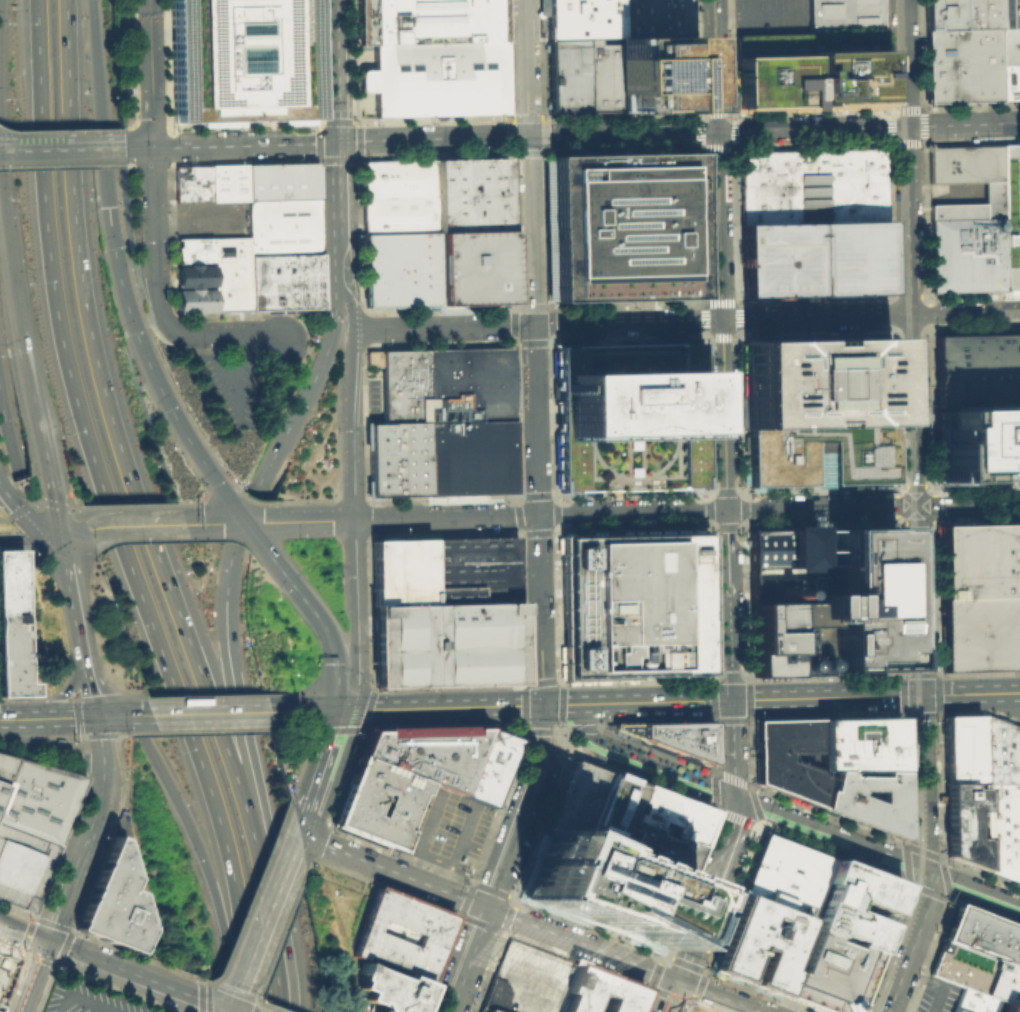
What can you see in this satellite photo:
building: (1008, 13)
building: (961, 14)
road: (759, 16)
building: (843, 16)
parking lot: (770, 17)
building: (654, 18)
building: (582, 19)
building: (428, 20)
building: (1009, 45)
road: (887, 55)
building: (239, 59)
road: (904, 62)
building: (962, 64)
road: (715, 65)
road: (525, 67)
building: (808, 68)
road: (335, 70)
road: (147, 72)
building: (656, 73)
building: (603, 74)
building: (568, 75)
building: (435, 78)
building: (1018, 80)
building: (1008, 82)
road: (893, 86)
road: (97, 103)
road: (893, 109)
traffic signals: (907, 125)
road: (868, 126)
traffic signals: (717, 130)
road: (669, 131)
road: (574, 134)
traffic signals: (527, 135)
road: (480, 136)
road: (385, 139)
traffic signals: (338, 140)
road: (244, 142)
road: (127, 145)
road: (135, 145)
road: (88, 146)
road: (716, 147)
road: (28, 148)
road: (318, 150)
road: (545, 151)
road: (328, 160)
building: (964, 163)
road: (60, 164)
road: (129, 164)
building: (280, 179)
building: (225, 181)
building: (189, 182)
building: (812, 185)
road: (944, 186)
road: (339, 187)
building: (470, 193)
building: (397, 195)
building: (992, 199)
traffic signals: (107, 206)
building: (956, 210)
building: (1010, 214)
road: (134, 217)
parking lot: (208, 218)
road: (194, 220)
building: (281, 225)
road: (719, 225)
building: (619, 226)
road: (529, 229)
road: (151, 236)
road: (321, 236)
building: (191, 249)
building: (966, 254)
road: (333, 256)
building: (814, 257)
parking lot: (814, 257)
building: (472, 266)
building: (400, 268)
building: (228, 272)
building: (191, 274)
road: (8, 275)
building: (283, 279)
road: (354, 280)
building: (191, 299)
road: (347, 302)
road: (814, 306)
road: (294, 313)
road: (871, 316)
road: (626, 322)
road: (484, 325)
road: (394, 328)
road: (172, 331)
road: (230, 333)
road: (893, 333)
road: (234, 354)
building: (977, 371)
road: (223, 372)
road: (148, 375)
building: (400, 383)
building: (468, 383)
parking lot: (224, 384)
road: (306, 394)
road: (29, 399)
road: (3, 403)
building: (817, 409)
road: (895, 409)
road: (914, 410)
road: (723, 414)
building: (628, 415)
traffic signals: (7, 420)
road: (547, 423)
building: (977, 443)
railway: (899, 444)
road: (13, 449)
road: (118, 450)
building: (469, 456)
building: (397, 458)
road: (903, 462)
road: (347, 470)
road: (913, 486)
road: (46, 491)
road: (44, 503)
road: (896, 503)
road: (124, 505)
traffic signals: (916, 505)
road: (73, 508)
railway: (912, 509)
road: (684, 511)
road: (109, 512)
road: (537, 514)
road: (24, 515)
road: (265, 521)
road: (932, 521)
road: (819, 522)
road: (743, 524)
road: (132, 525)
road: (70, 531)
traffic signals: (57, 534)
road: (28, 535)
road: (827, 544)
building: (779, 546)
building: (1015, 556)
building: (473, 559)
building: (974, 559)
road: (806, 569)
building: (400, 571)
chimney: (786, 592)
building: (474, 593)
road: (745, 599)
building: (854, 600)
building: (632, 603)
road: (729, 604)
road: (310, 607)
parking lot: (443, 611)
building: (11, 624)
road: (76, 625)
building: (1016, 631)
building: (976, 633)
building: (781, 637)
building: (445, 643)
road: (352, 663)
road: (902, 675)
road: (559, 680)
road: (448, 685)
road: (523, 686)
road: (996, 692)
road: (946, 693)
traffic signals: (921, 695)
road: (826, 696)
traffic signals: (732, 700)
road: (651, 701)
road: (996, 702)
traffic signals: (542, 704)
road: (557, 704)
road: (560, 706)
road: (440, 707)
traffic signals: (338, 710)
road: (303, 711)
road: (963, 711)
road: (234, 712)
road: (173, 713)
road: (239, 714)
road: (122, 715)
road: (66, 716)
traffic signals: (96, 716)
road: (998, 716)
road: (1005, 716)
road: (748, 717)
road: (19, 718)
road: (444, 725)
road: (353, 728)
road: (288, 729)
building: (626, 729)
road: (213, 730)
road: (554, 730)
road: (82, 734)
road: (100, 734)
road: (115, 734)
road: (79, 736)
building: (679, 737)
building: (858, 744)
road: (88, 748)
building: (961, 748)
road: (50, 752)
building: (423, 753)
building: (787, 758)
road: (298, 763)
building: (5, 766)
building: (488, 768)
building: (1017, 768)
road: (317, 771)
road: (923, 783)
building: (1, 787)
building: (999, 796)
road: (999, 797)
traffic signals: (735, 798)
building: (38, 799)
building: (575, 799)
road: (739, 799)
building: (866, 799)
building: (354, 804)
road: (522, 806)
building: (603, 810)
building: (663, 811)
building: (963, 821)
parking lot: (445, 829)
road: (87, 830)
road: (421, 839)
road: (728, 842)
building: (1018, 845)
road: (456, 847)
building: (651, 848)
road: (481, 850)
road: (931, 854)
building: (23, 866)
road: (207, 869)
road: (390, 869)
traffic signals: (926, 872)
road: (980, 872)
building: (785, 875)
road: (1001, 878)
road: (87, 882)
road: (473, 884)
building: (602, 887)
road: (973, 889)
road: (249, 895)
road: (425, 901)
building: (110, 902)
building: (833, 904)
traffic signals: (488, 906)
road: (457, 912)
road: (260, 919)
road: (914, 927)
building: (983, 935)
building: (375, 940)
traffic signals: (46, 941)
building: (757, 944)
road: (278, 945)
road: (272, 948)
road: (470, 959)
road: (626, 959)
road: (105, 962)
building: (5, 967)
building: (976, 972)
building: (826, 973)
road: (32, 976)
traffic signals: (677, 978)
building: (525, 979)
parking lot: (525, 979)
building: (387, 989)
building: (596, 991)
road: (670, 994)
parking lot: (937, 995)
parking lot: (91, 997)
road: (888, 997)
building: (973, 1001)
road: (66, 1002)
road: (94, 1002)
road: (219, 1005)
building: (1004, 1007)
traffic signals: (228, 1008)
building: (485, 1009)
road: (227, 1010)
road: (232, 1010)
building: (372, 1011)

